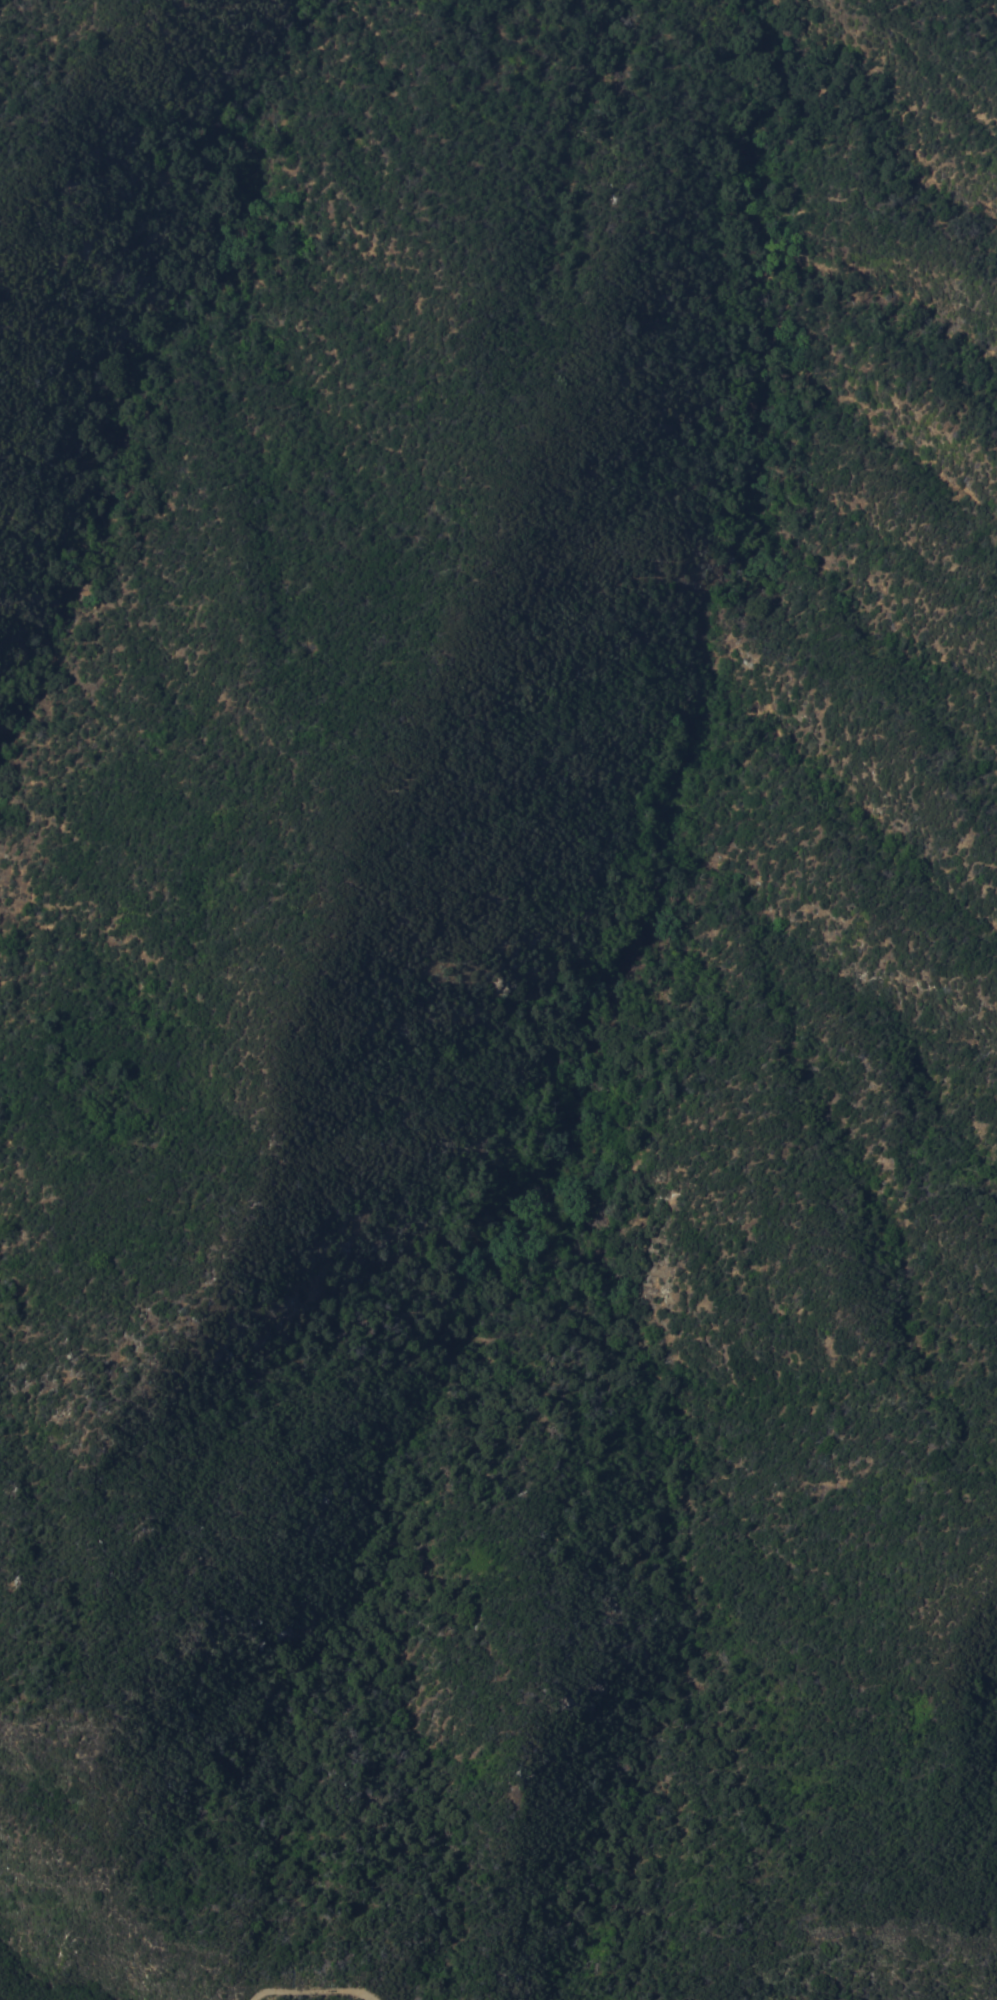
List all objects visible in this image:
road: (310, 1994)

